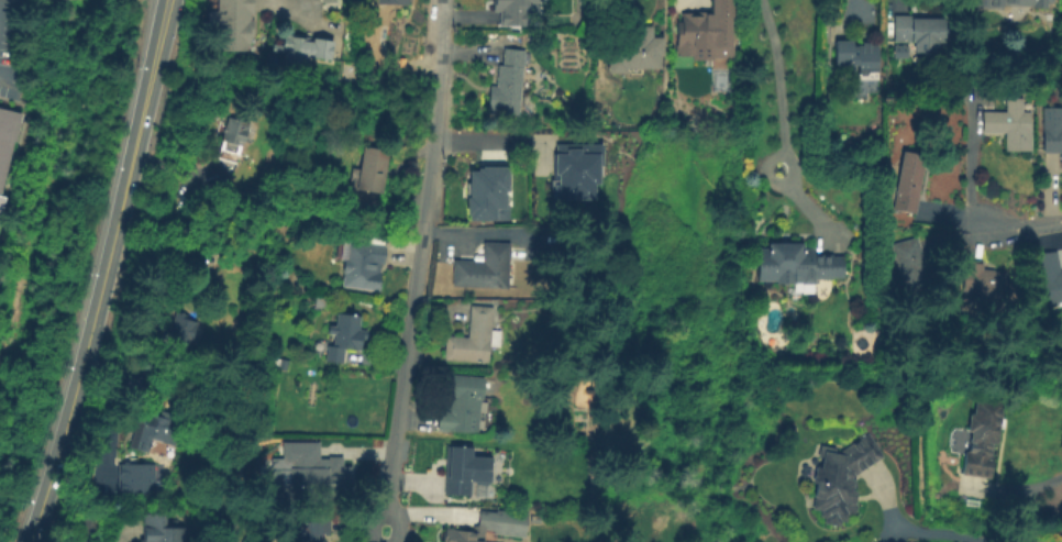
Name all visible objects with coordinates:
building: (330, 1)
building: (392, 1)
building: (584, 1)
building: (985, 4)
building: (516, 9)
building: (234, 24)
building: (704, 25)
building: (919, 32)
building: (302, 48)
building: (626, 48)
building: (897, 51)
building: (856, 57)
road: (778, 82)
building: (789, 82)
building: (507, 84)
building: (1009, 124)
building: (1051, 129)
building: (5, 134)
building: (233, 135)
road: (491, 140)
building: (373, 169)
building: (574, 169)
building: (908, 181)
building: (485, 191)
building: (0, 197)
road: (1011, 225)
building: (233, 254)
building: (909, 262)
building: (796, 263)
building: (364, 266)
building: (484, 268)
road: (416, 270)
road: (102, 273)
building: (1048, 278)
building: (983, 281)
building: (320, 301)
building: (181, 328)
building: (343, 336)
building: (473, 339)
building: (283, 363)
building: (569, 379)
building: (465, 403)
building: (147, 431)
building: (981, 438)
building: (290, 443)
building: (322, 466)
building: (465, 471)
building: (135, 476)
building: (840, 477)
road: (101, 480)
road: (1022, 489)
building: (487, 524)
building: (308, 529)
building: (159, 530)
road: (916, 532)

